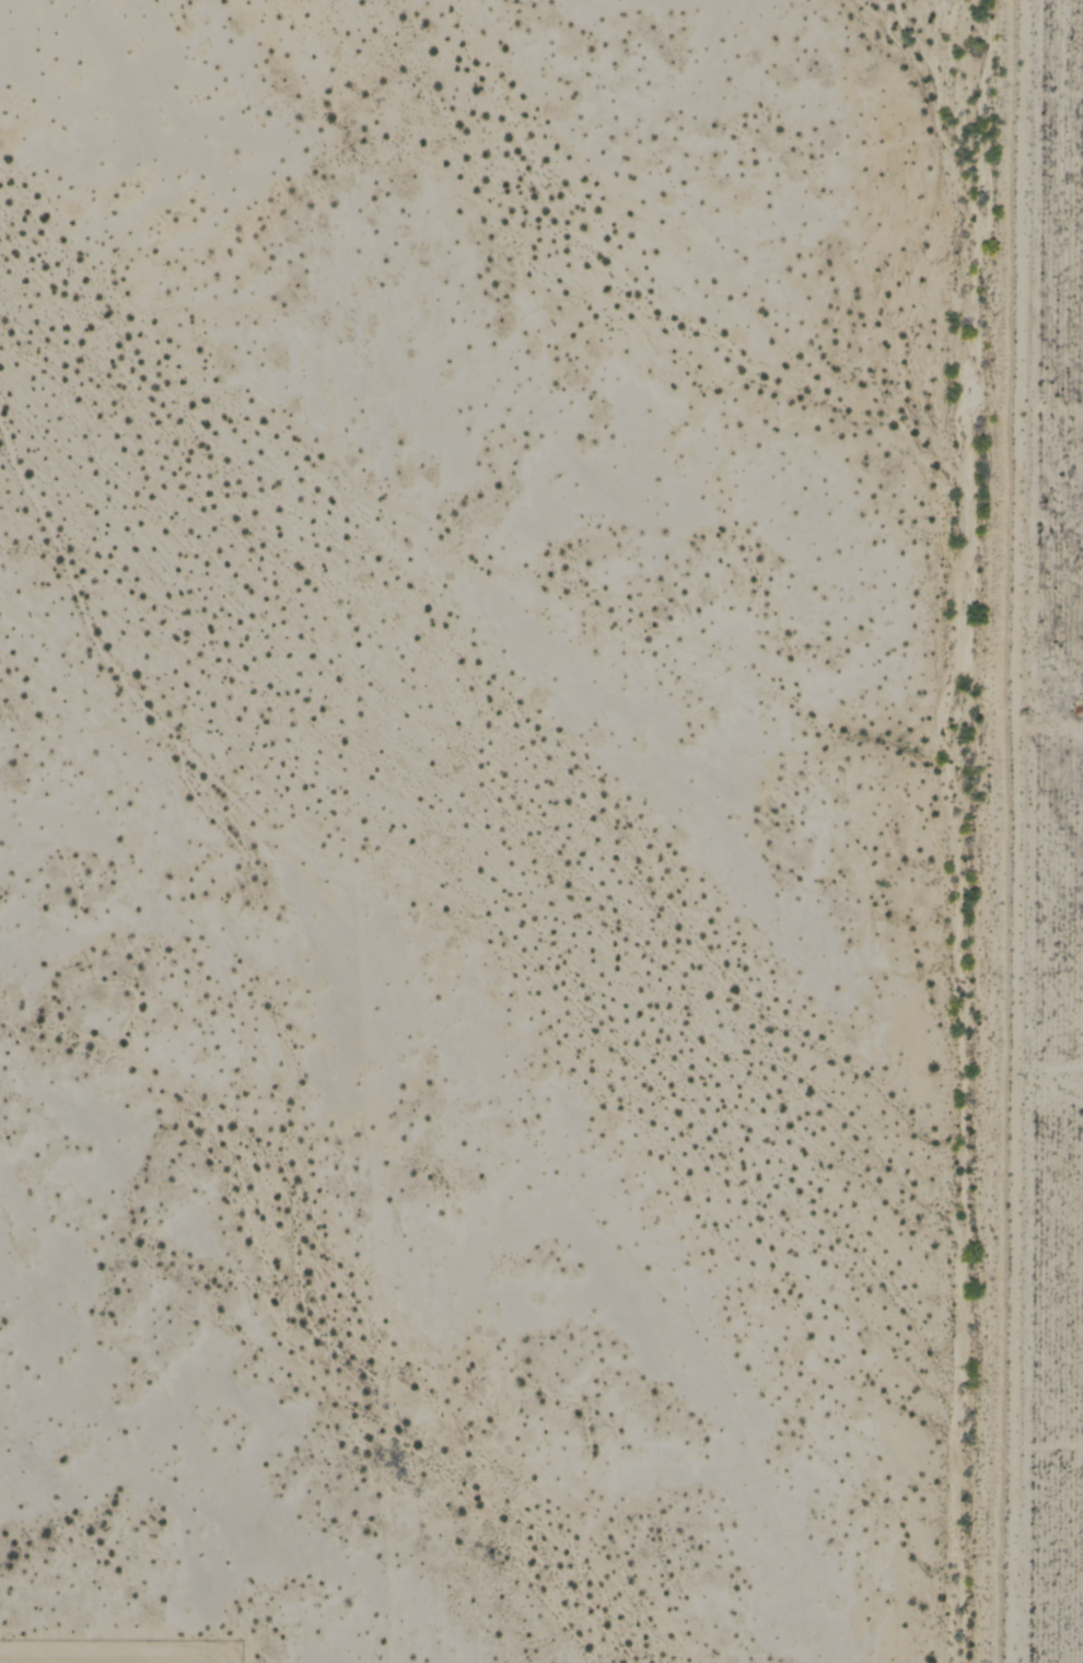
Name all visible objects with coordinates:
solar farm: (121, 1652)

